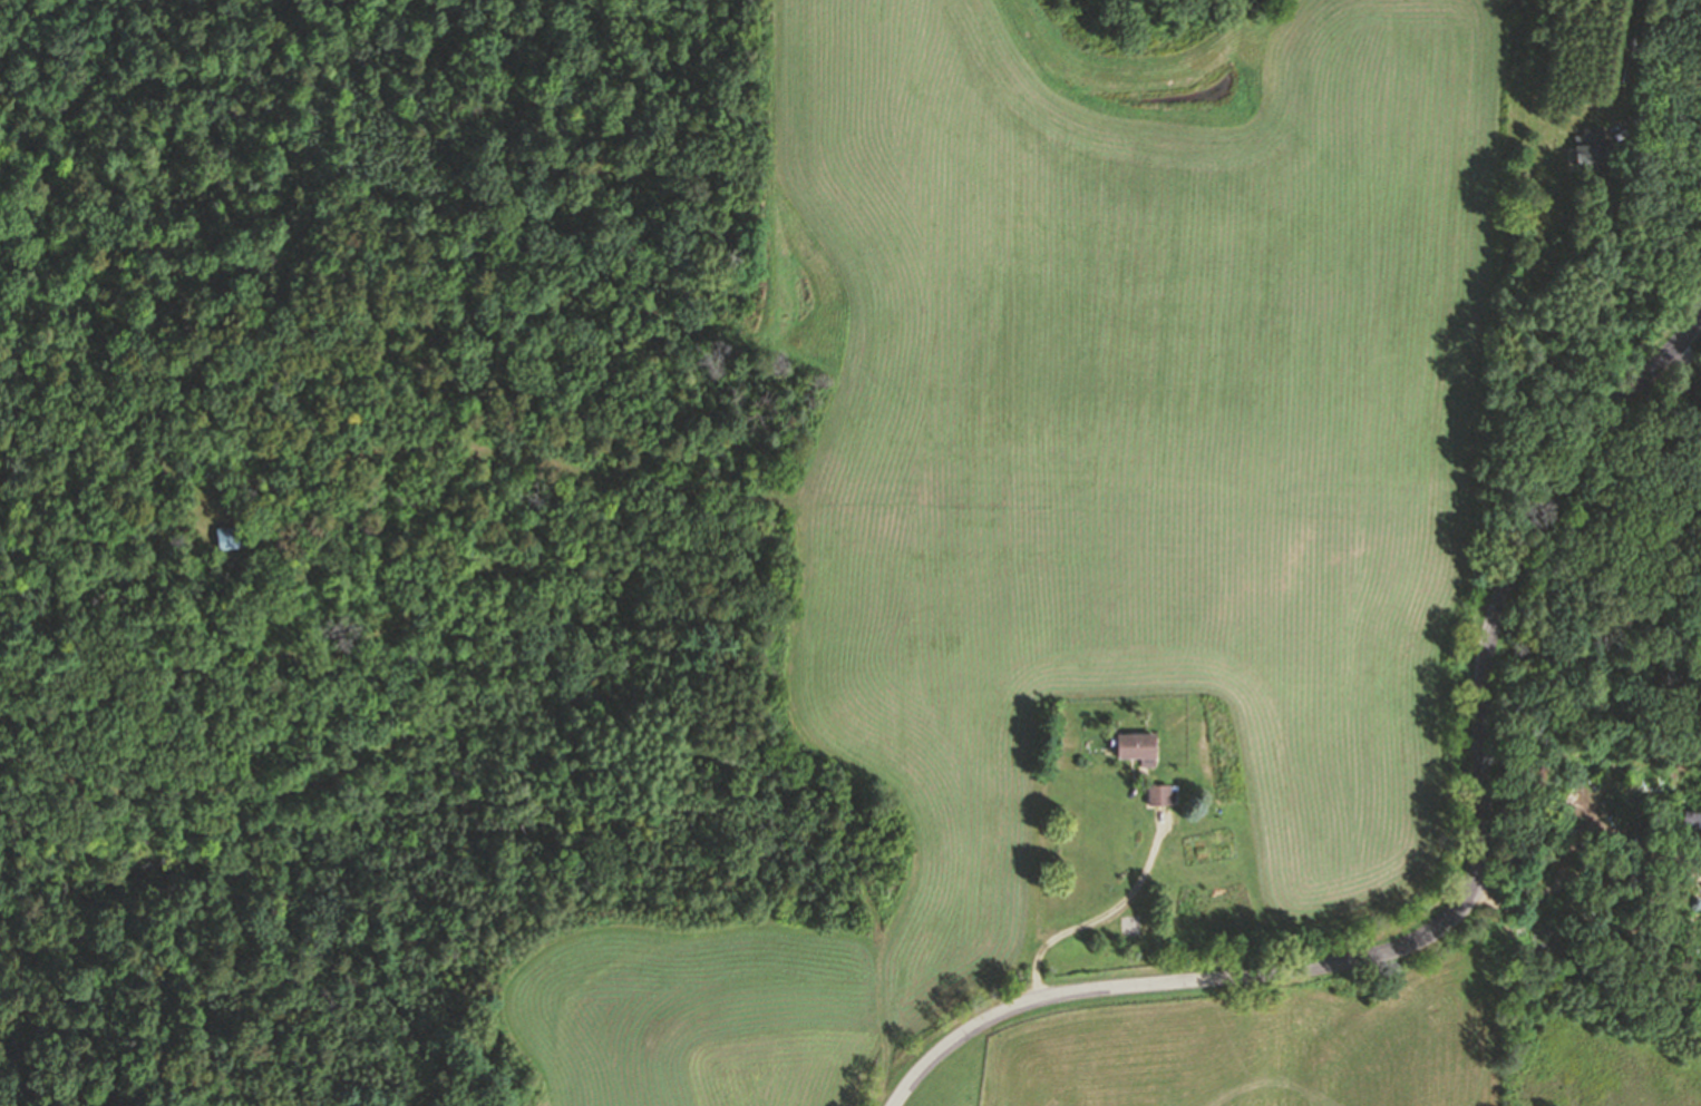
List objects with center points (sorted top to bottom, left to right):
road: (1666, 116)
building: (1596, 150)
road: (1689, 354)
road: (1692, 379)
building: (239, 536)
building: (1139, 747)
building: (1161, 794)
building: (1690, 821)
road: (1471, 892)
road: (1102, 919)

